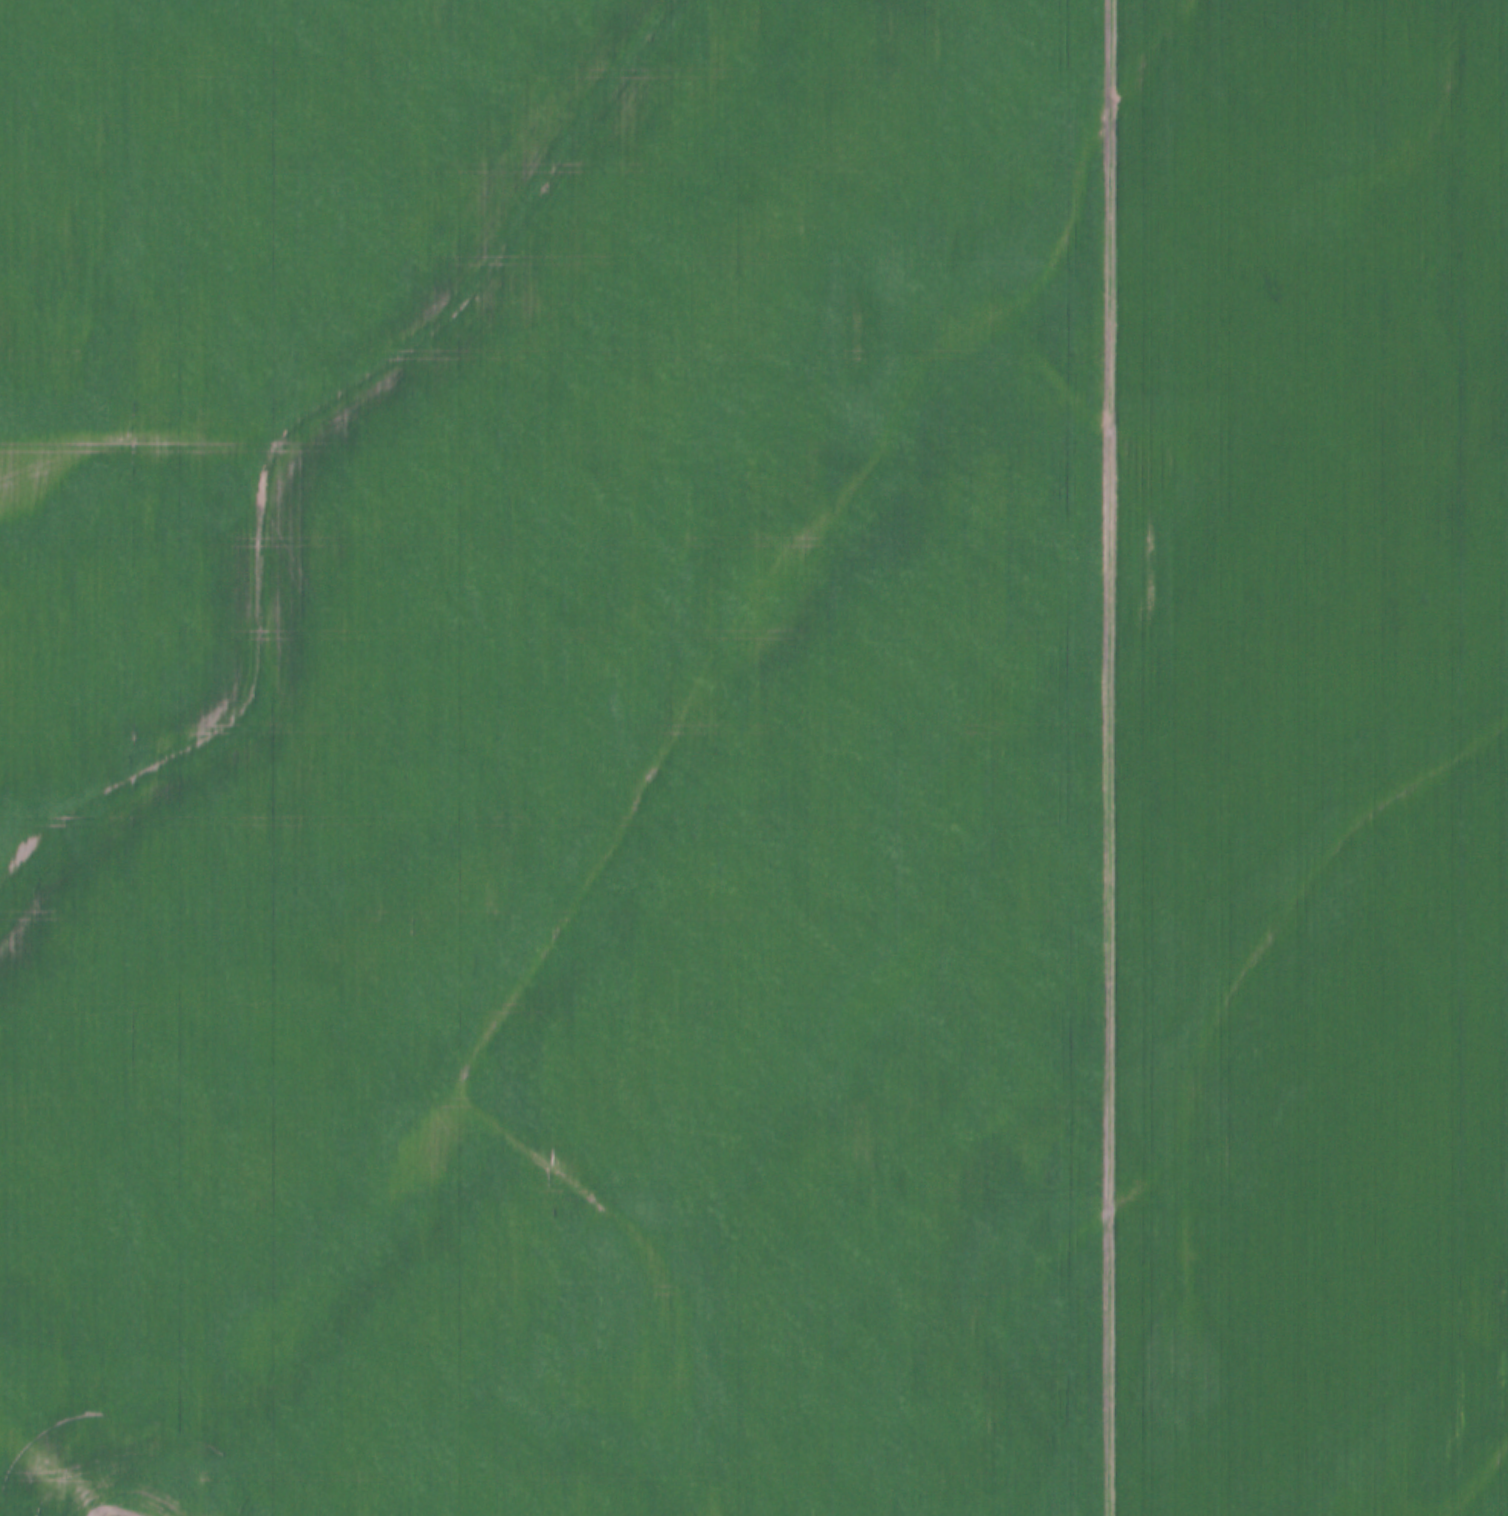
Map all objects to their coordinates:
road: (1118, 757)

